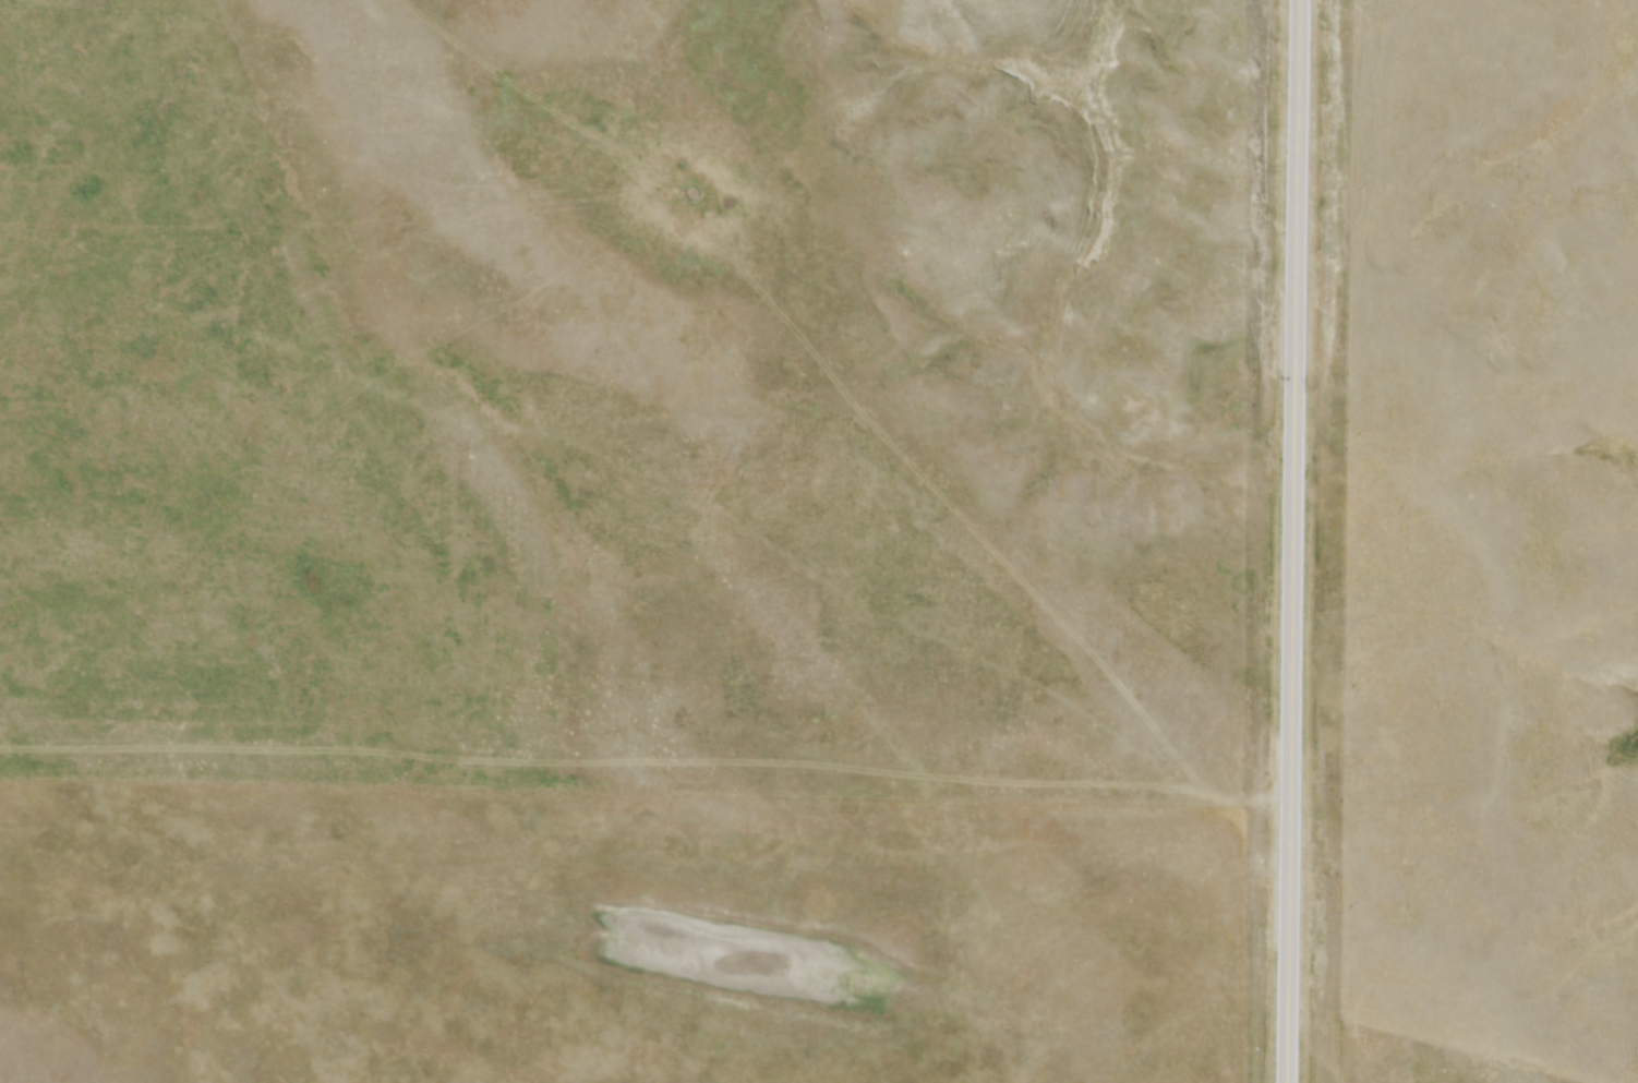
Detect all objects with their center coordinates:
road: (1288, 541)

